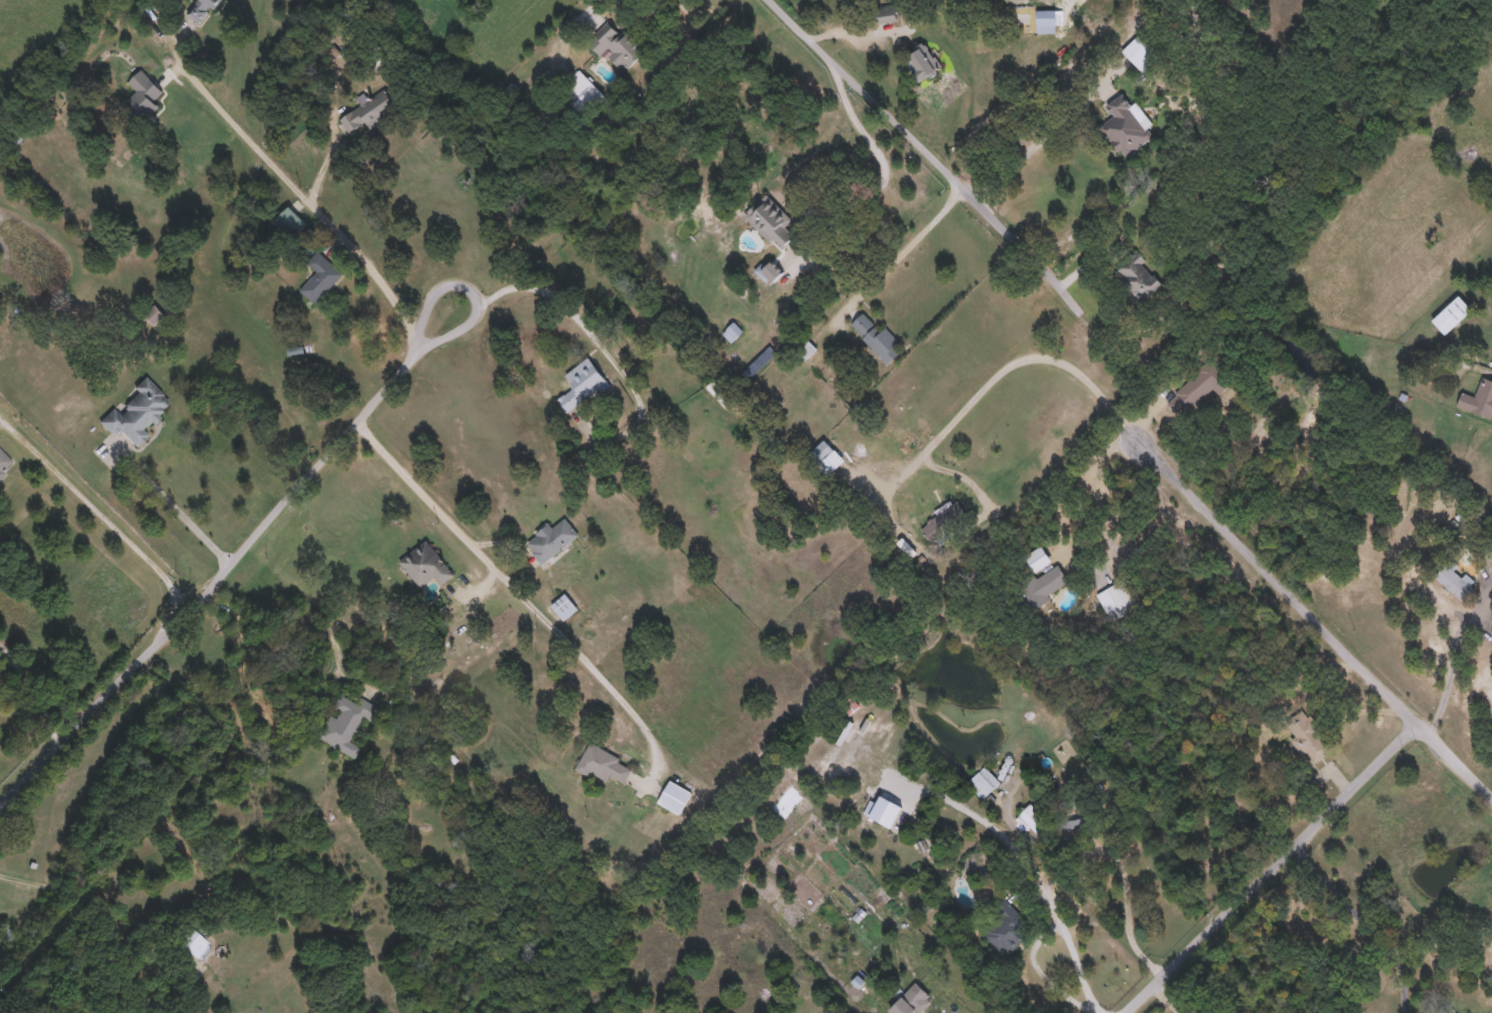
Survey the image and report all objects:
road: (592, 6)
building: (199, 9)
building: (886, 16)
building: (1045, 20)
building: (618, 45)
building: (1140, 53)
building: (924, 62)
building: (582, 92)
building: (141, 96)
building: (370, 114)
building: (1126, 128)
road: (1030, 147)
road: (937, 151)
road: (328, 155)
road: (304, 196)
road: (846, 210)
building: (290, 220)
building: (772, 222)
road: (1029, 255)
building: (770, 270)
building: (320, 276)
building: (1136, 276)
road: (480, 309)
building: (154, 314)
building: (1451, 314)
building: (732, 331)
road: (595, 336)
building: (877, 337)
building: (803, 347)
building: (581, 383)
building: (1197, 387)
building: (1478, 399)
building: (136, 412)
building: (821, 451)
building: (4, 462)
road: (1182, 476)
road: (179, 508)
road: (100, 512)
building: (552, 539)
building: (425, 564)
road: (216, 576)
building: (1042, 577)
building: (1454, 579)
road: (523, 592)
building: (1116, 599)
building: (564, 606)
road: (1177, 648)
road: (1457, 654)
road: (37, 691)
building: (850, 705)
road: (302, 707)
building: (345, 722)
building: (1308, 735)
road: (1457, 755)
building: (604, 764)
building: (985, 778)
building: (674, 796)
building: (1033, 817)
building: (1078, 820)
road: (1023, 853)
road: (1273, 865)
road: (1086, 868)
road: (1126, 887)
road: (72, 895)
road: (1365, 921)
building: (1007, 926)
building: (1491, 927)
building: (4, 936)
building: (188, 940)
road: (1134, 942)
road: (1042, 972)
road: (1168, 998)
building: (910, 1000)

